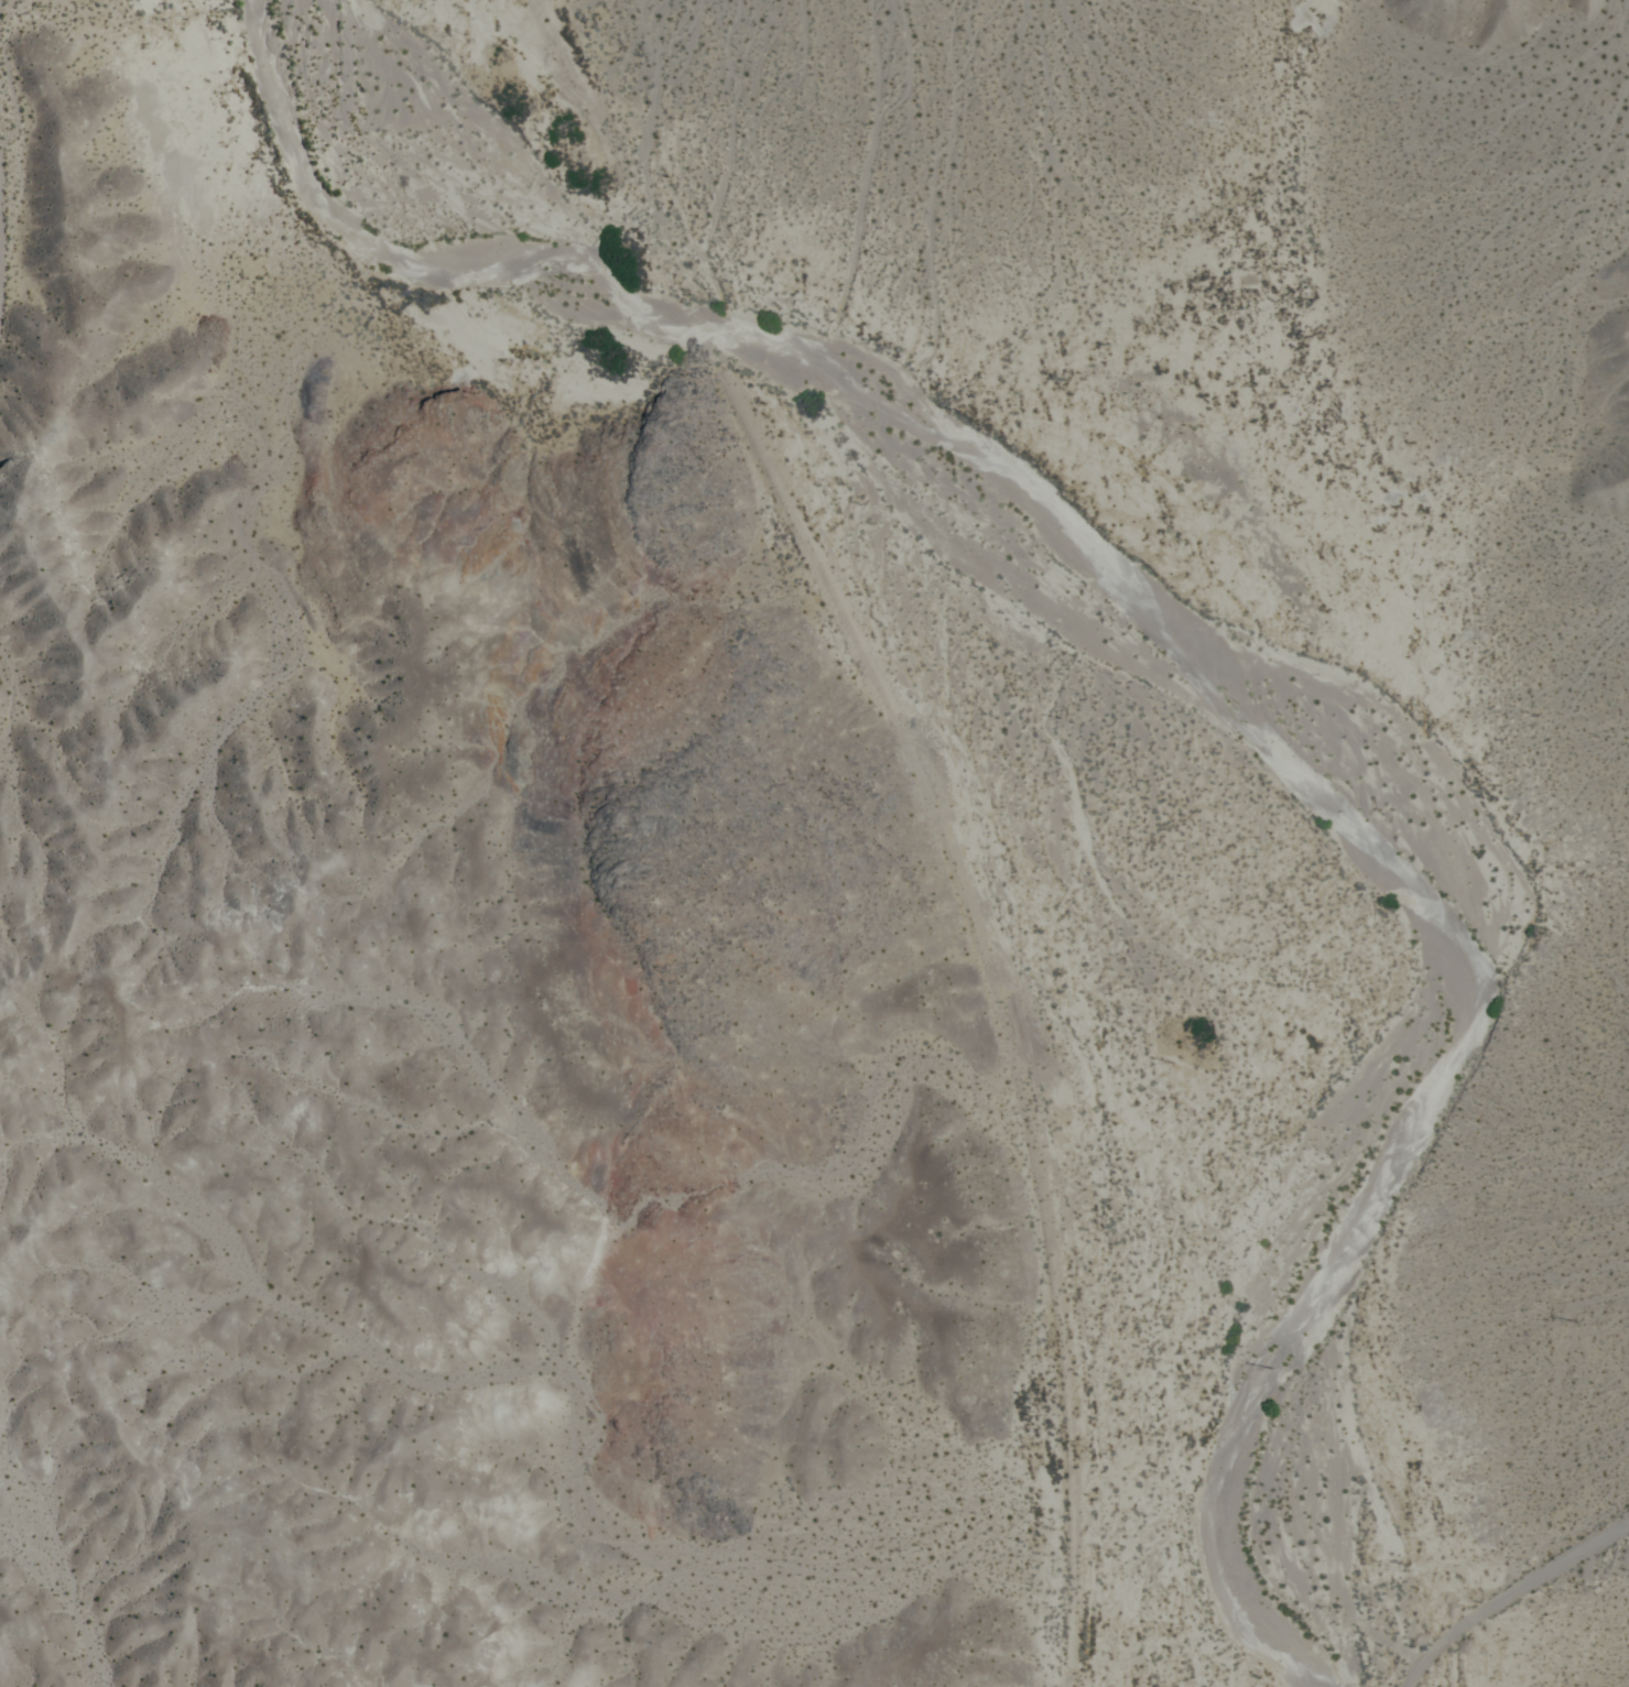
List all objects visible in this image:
road: (1496, 334)
river: (1202, 665)
road: (1510, 1596)

